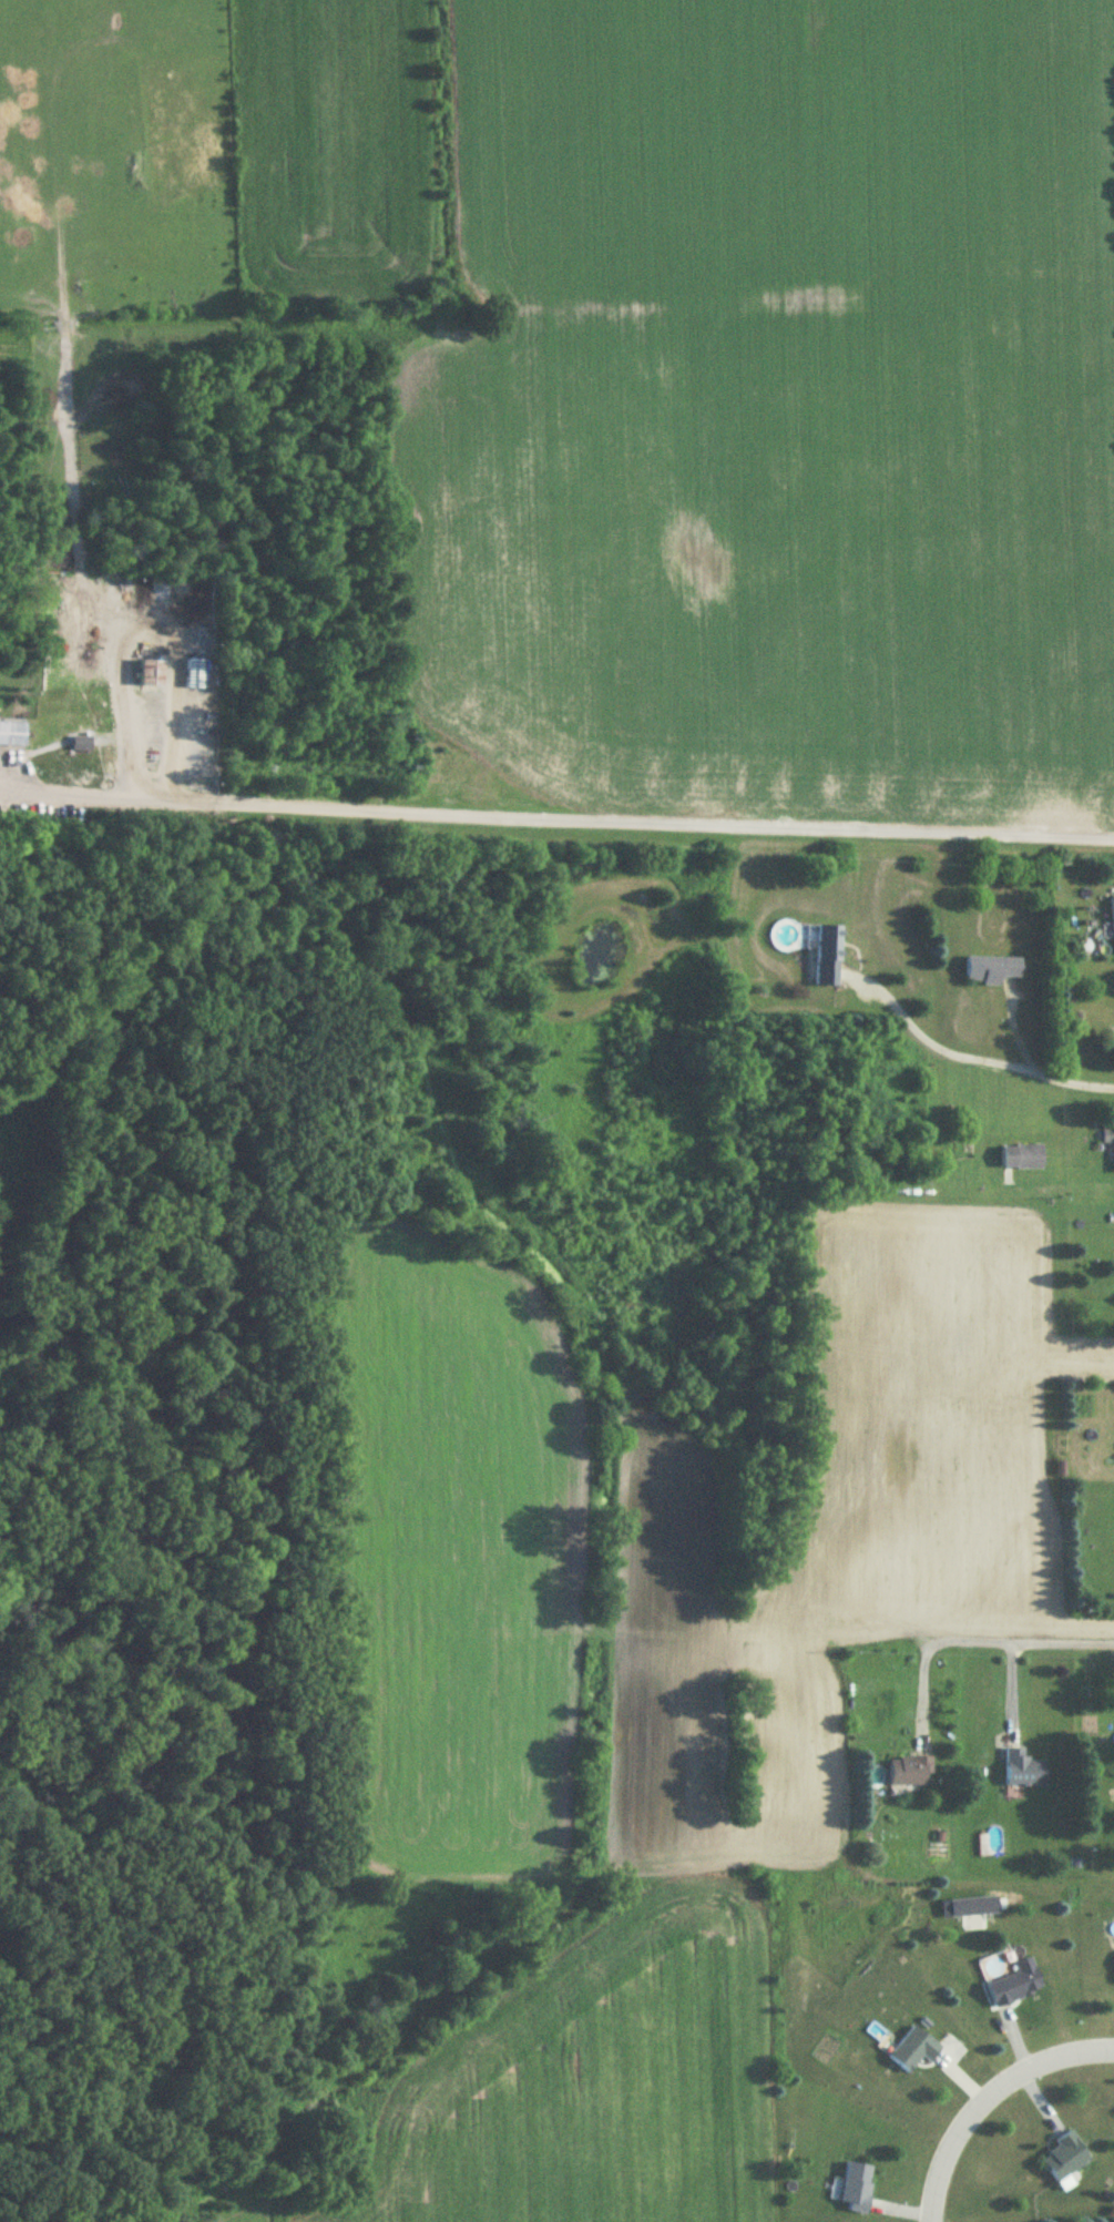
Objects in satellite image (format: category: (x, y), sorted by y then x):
road: (143, 611)
building: (145, 669)
building: (194, 674)
building: (12, 734)
building: (80, 744)
road: (566, 816)
building: (1113, 917)
building: (827, 955)
building: (990, 969)
road: (980, 1058)
building: (1107, 1141)
building: (1021, 1156)
road: (1063, 1183)
road: (971, 1642)
building: (1023, 1770)
building: (910, 1771)
building: (1010, 1990)
building: (913, 2049)
road: (987, 2098)
building: (1065, 2155)
building: (856, 2188)

